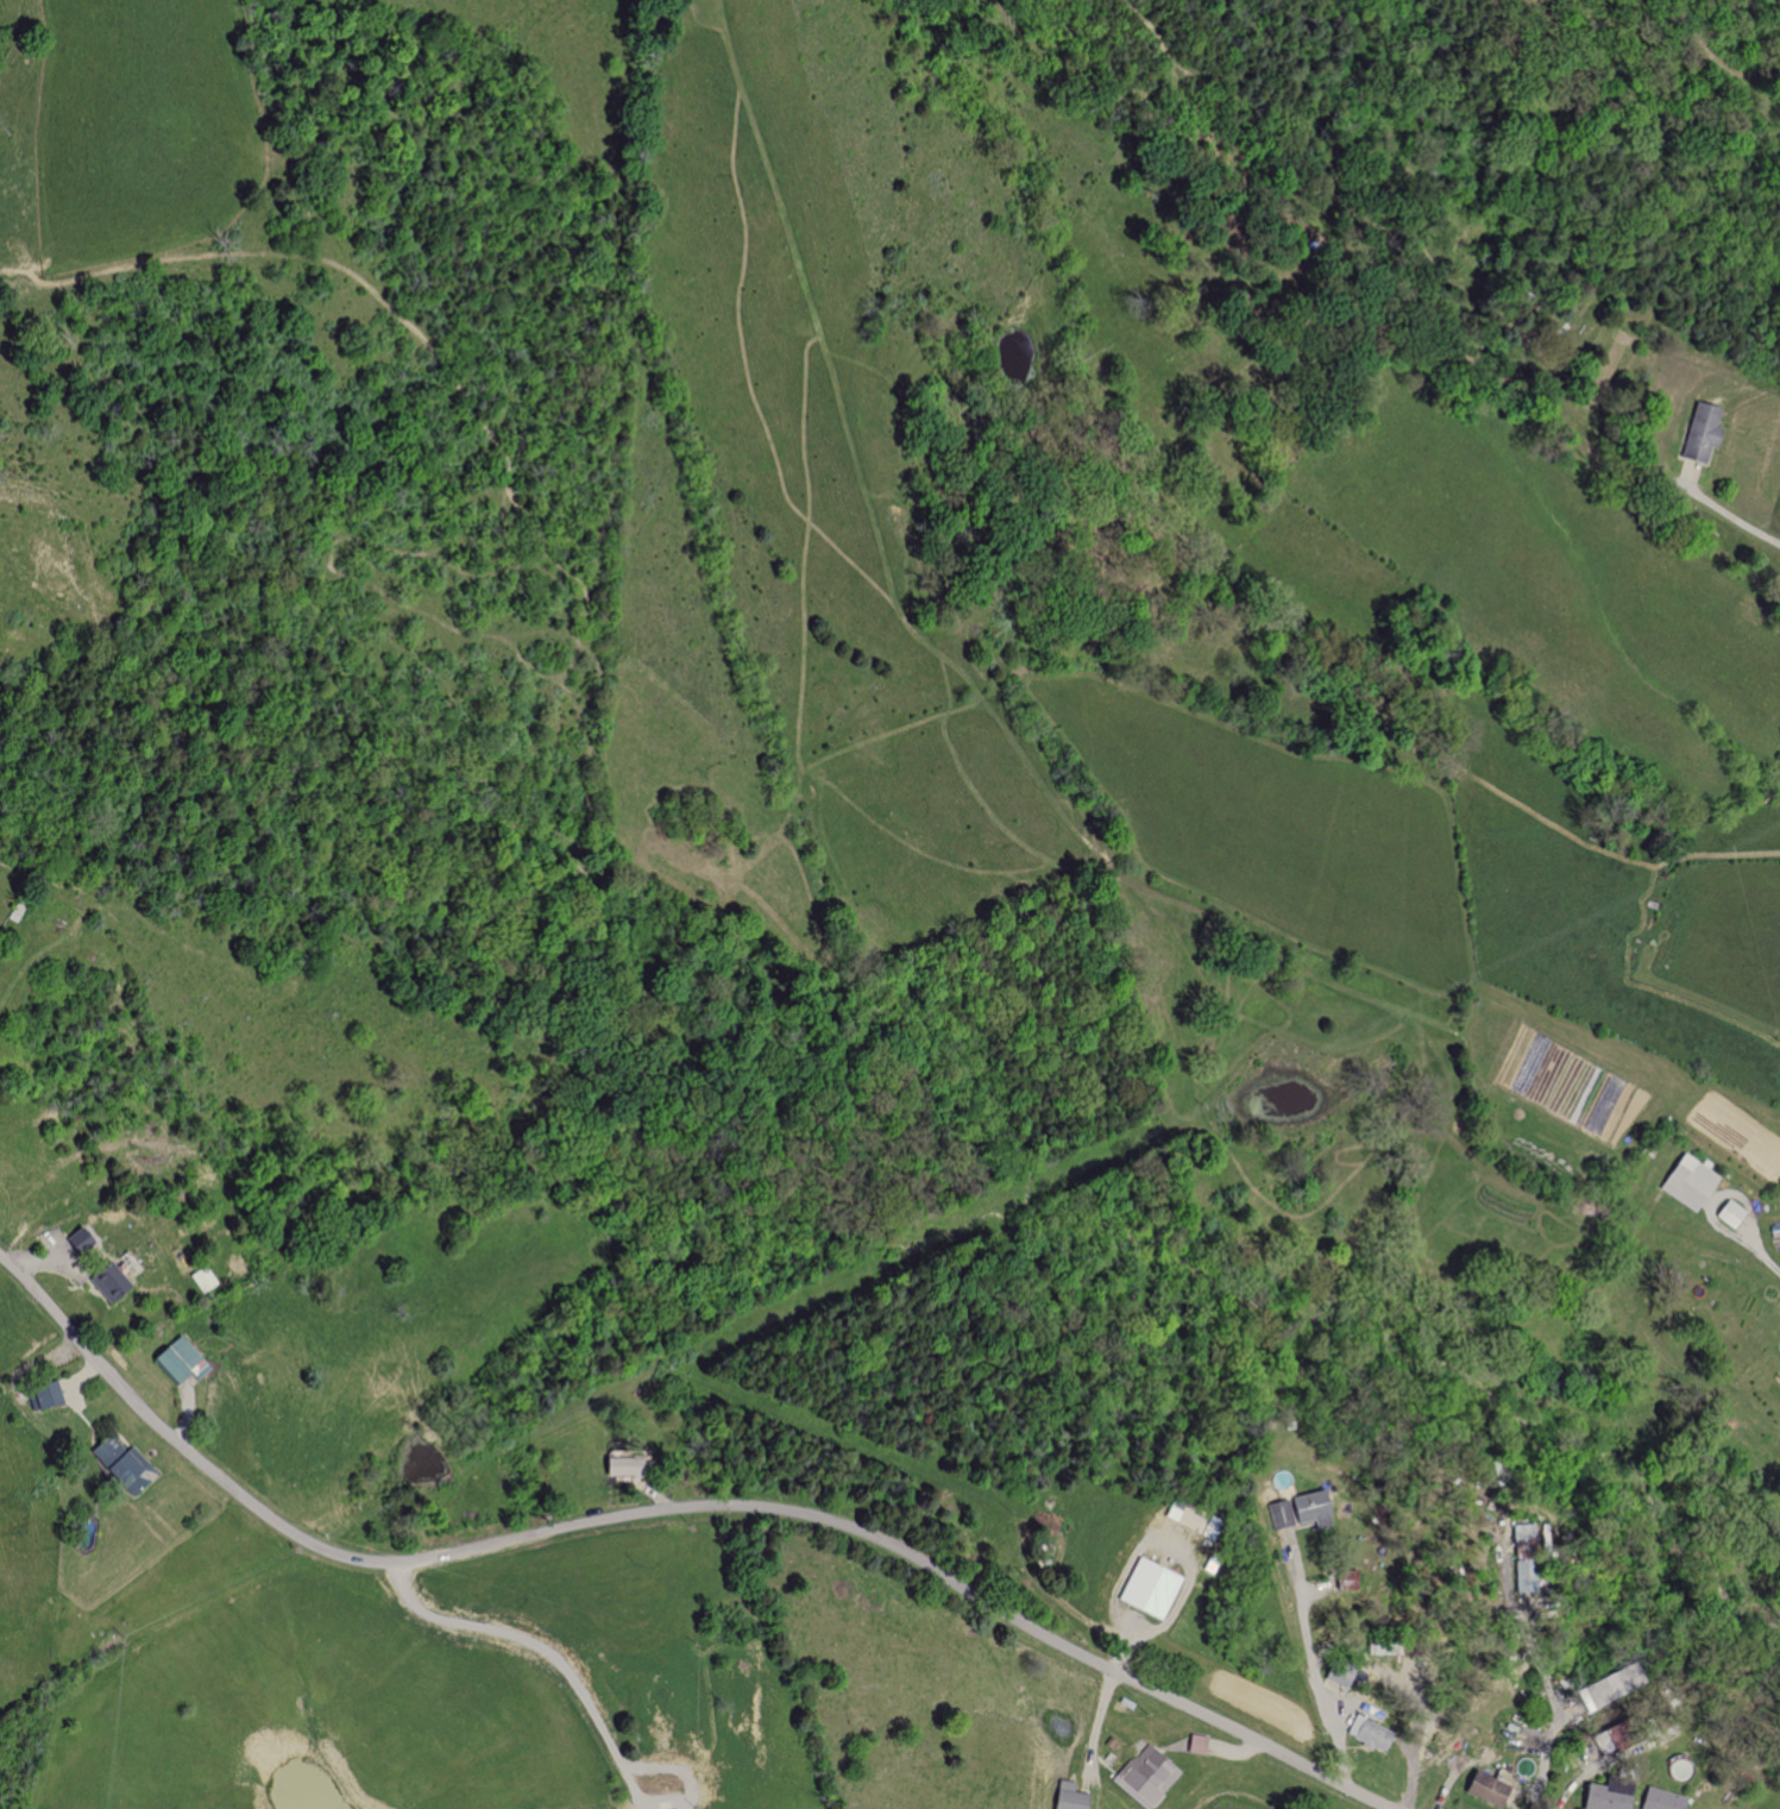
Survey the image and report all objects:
building: (1697, 432)
road: (1734, 516)
building: (1684, 1182)
building: (1726, 1213)
building: (87, 1239)
road: (1746, 1245)
building: (114, 1283)
building: (1778, 1350)
building: (185, 1361)
building: (52, 1395)
building: (625, 1466)
road: (666, 1510)
building: (1295, 1510)
building: (1146, 1588)
road: (1314, 1671)
building: (1334, 1672)
building: (1364, 1733)
building: (1144, 1776)
building: (1480, 1788)
building: (1067, 1796)
building: (1599, 1796)
building: (1656, 1799)

